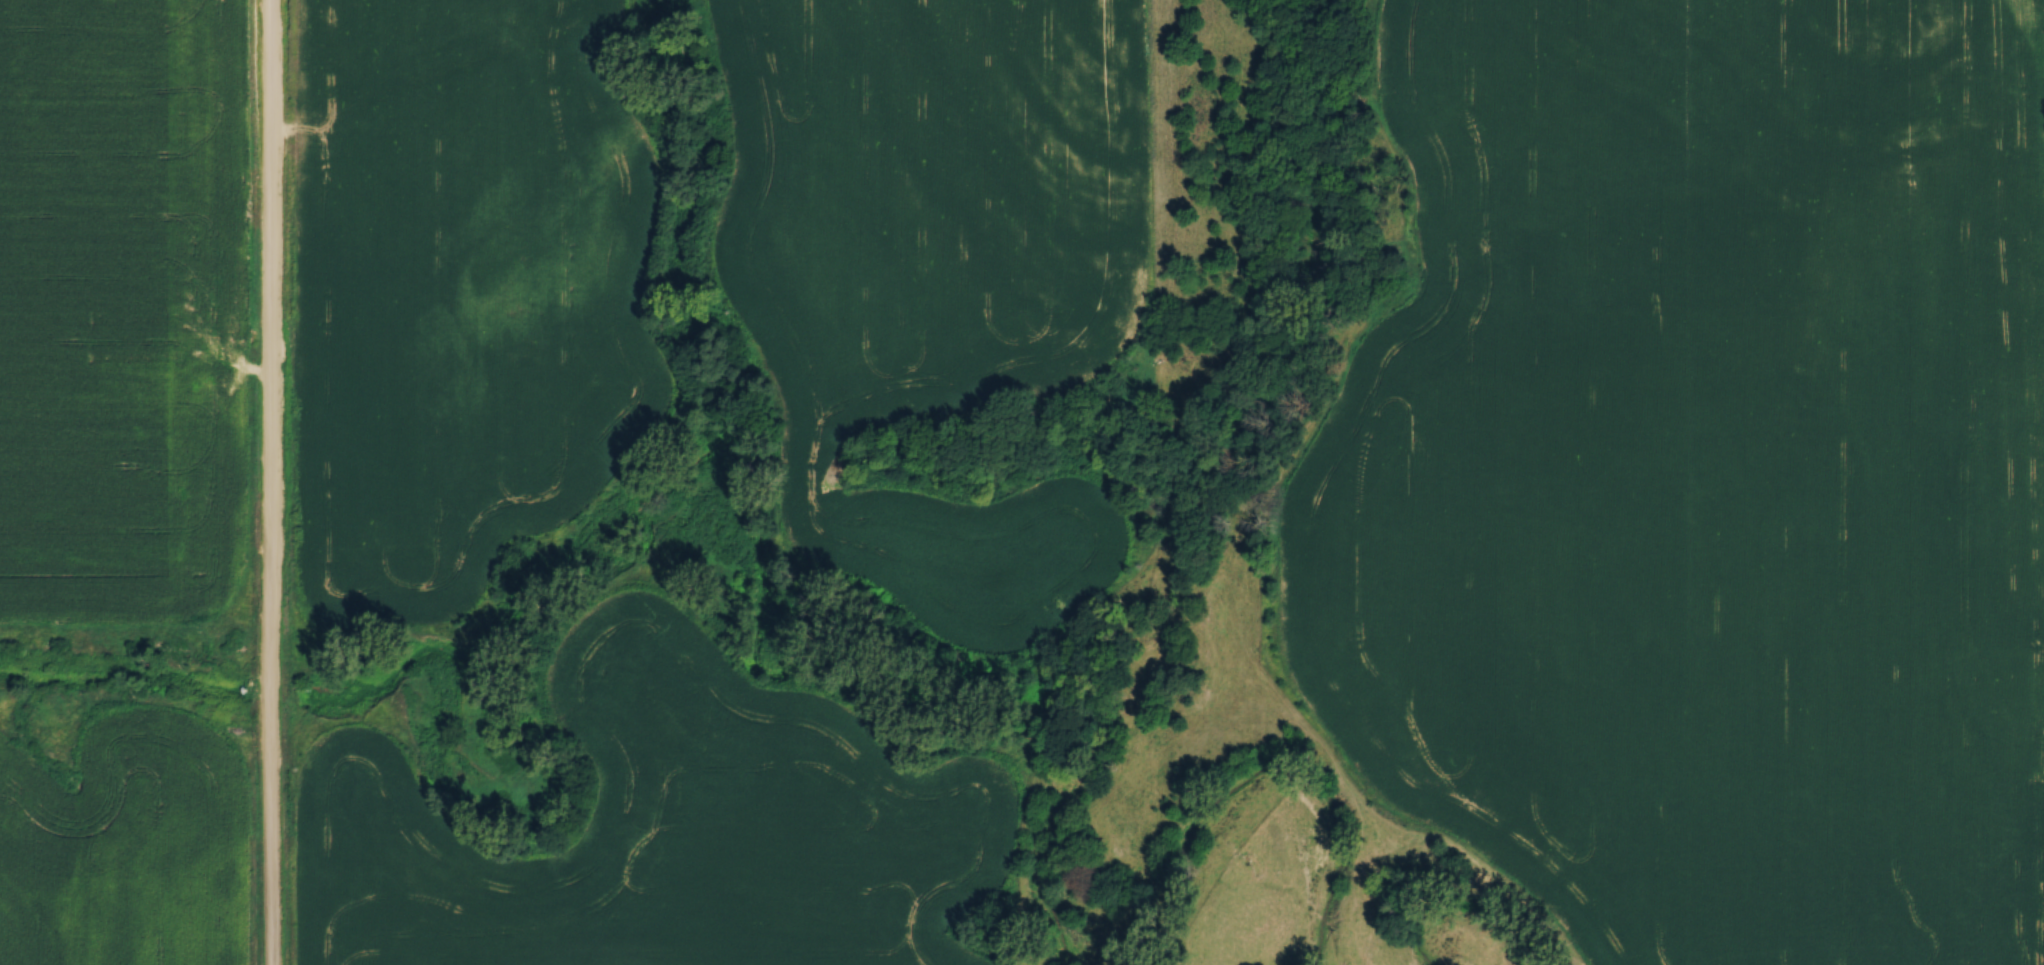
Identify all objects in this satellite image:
road: (268, 482)

